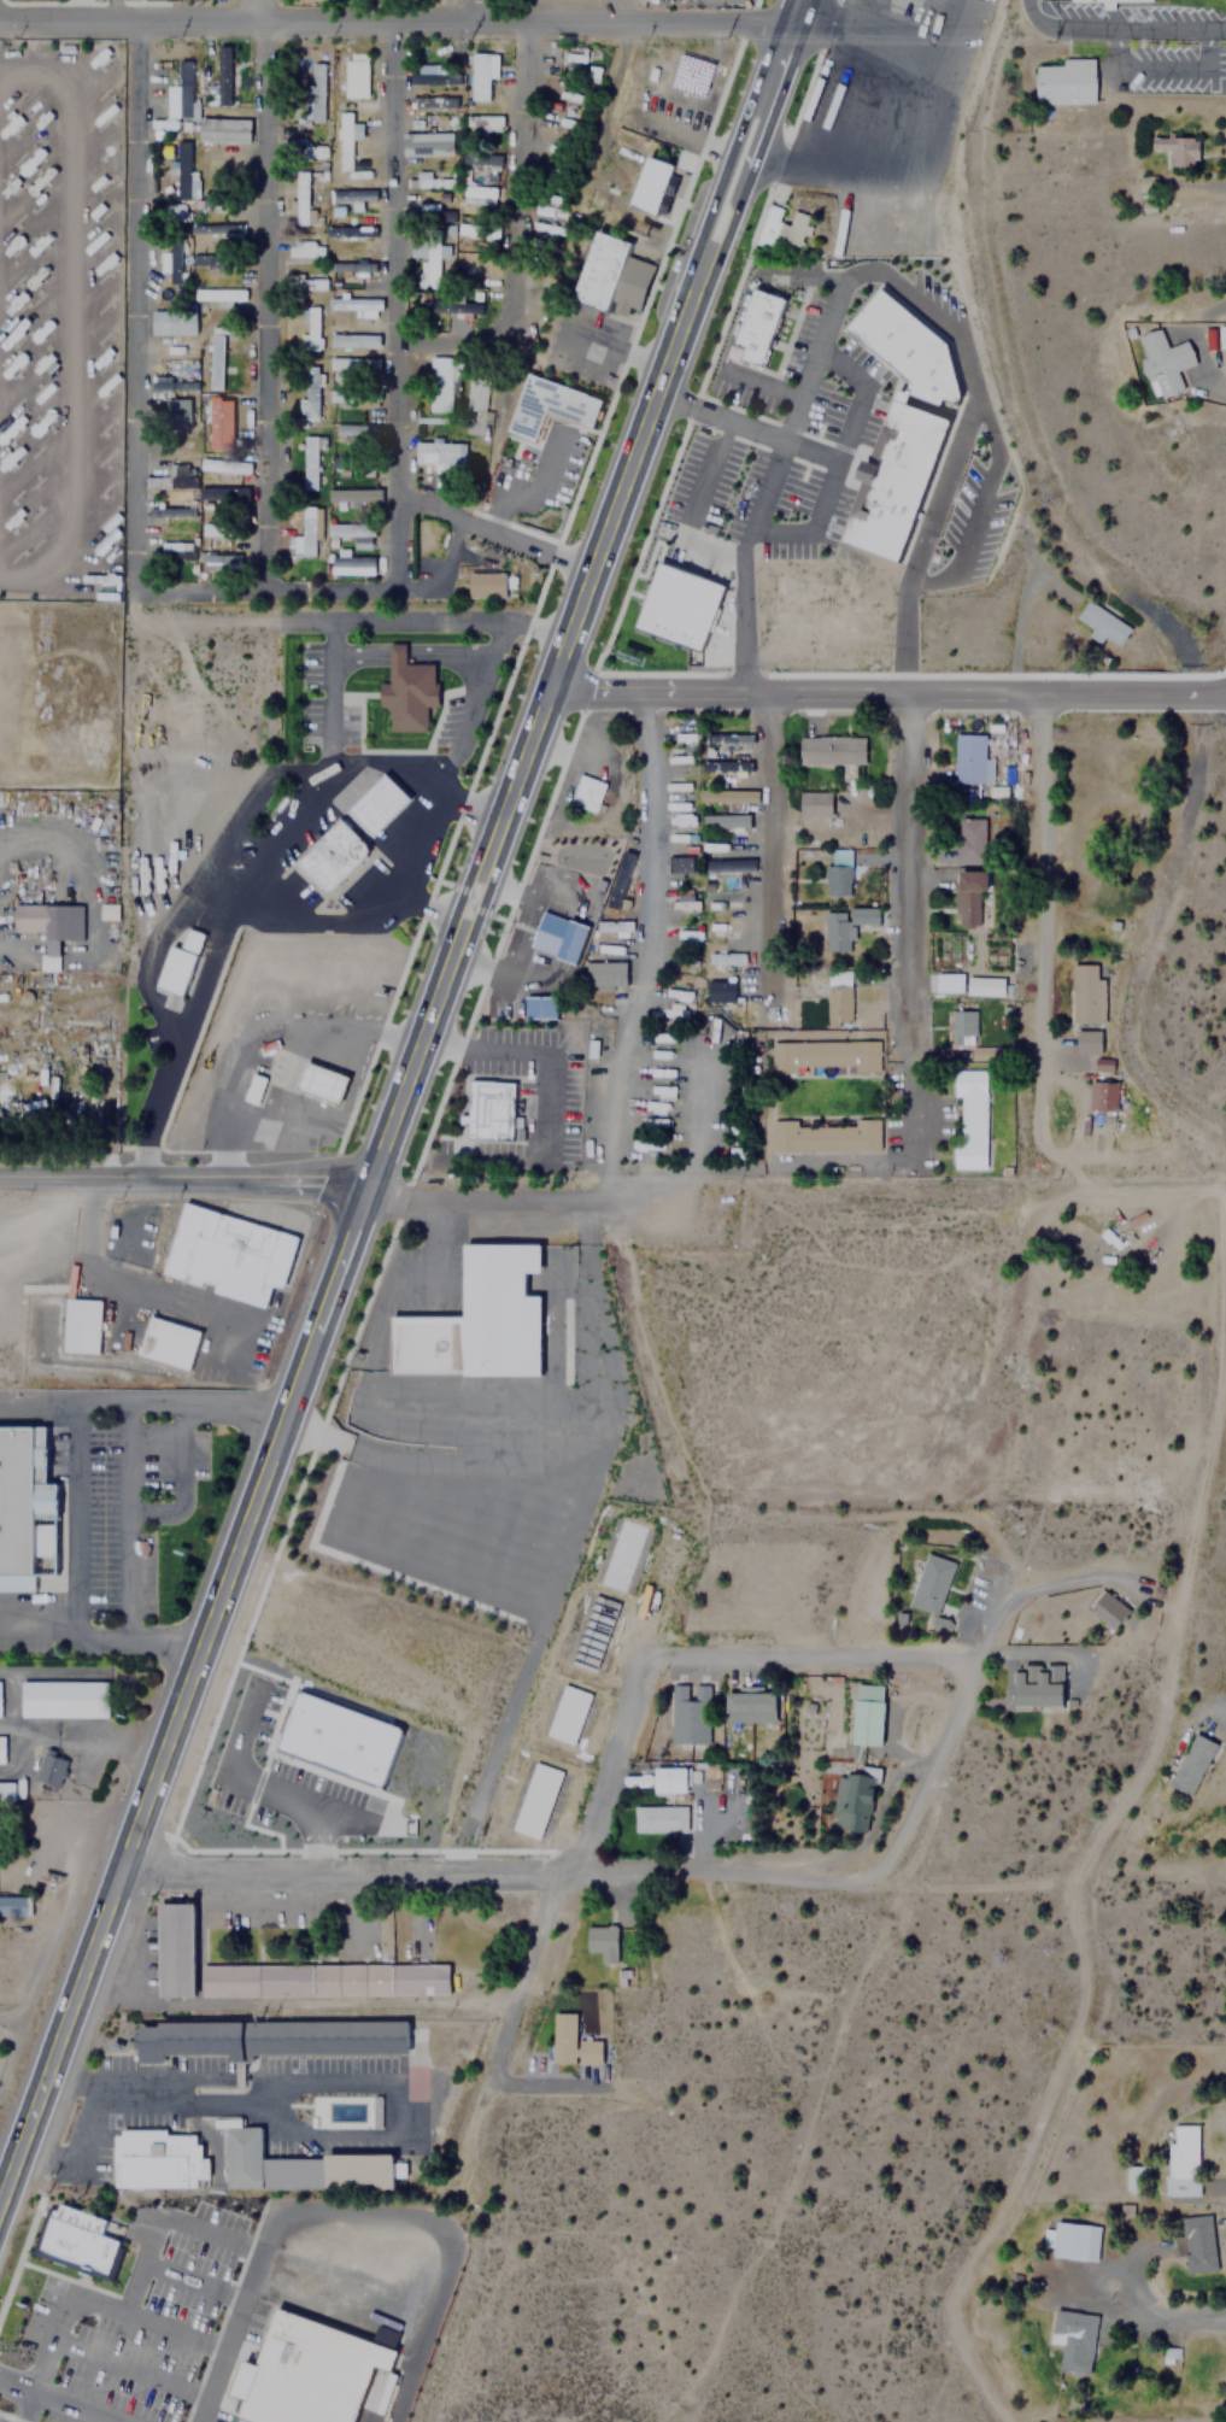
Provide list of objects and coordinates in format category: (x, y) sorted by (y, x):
building: (1111, 2)
road: (486, 8)
road: (792, 8)
road: (394, 18)
building: (350, 72)
building: (224, 75)
building: (429, 75)
building: (480, 75)
building: (1066, 81)
building: (178, 92)
building: (313, 93)
building: (433, 104)
building: (482, 123)
building: (438, 140)
road: (733, 142)
building: (346, 145)
road: (753, 148)
building: (1178, 149)
building: (306, 152)
building: (479, 159)
building: (182, 169)
building: (426, 181)
building: (651, 186)
building: (476, 195)
building: (300, 198)
building: (344, 198)
building: (422, 209)
building: (545, 225)
building: (781, 227)
building: (219, 229)
road: (518, 230)
building: (304, 248)
building: (211, 260)
building: (174, 262)
building: (428, 262)
building: (464, 264)
building: (352, 266)
building: (611, 272)
building: (303, 282)
building: (218, 294)
road: (265, 295)
building: (354, 303)
building: (456, 306)
building: (175, 318)
building: (309, 328)
building: (756, 328)
building: (354, 339)
building: (170, 345)
building: (908, 348)
building: (217, 362)
building: (1162, 362)
building: (222, 363)
building: (352, 366)
building: (440, 381)
building: (171, 382)
building: (475, 391)
building: (352, 397)
building: (309, 399)
building: (212, 401)
building: (549, 405)
building: (178, 415)
building: (213, 429)
building: (354, 433)
building: (176, 445)
building: (440, 455)
building: (309, 461)
building: (352, 463)
building: (215, 464)
building: (178, 475)
building: (897, 482)
building: (223, 494)
building: (351, 498)
building: (171, 510)
building: (303, 533)
building: (350, 533)
road: (497, 534)
building: (170, 555)
building: (218, 561)
building: (351, 564)
building: (487, 586)
road: (270, 591)
building: (673, 611)
building: (1101, 623)
building: (407, 691)
road: (888, 693)
building: (831, 749)
building: (969, 760)
building: (726, 766)
building: (586, 793)
building: (729, 796)
building: (816, 803)
building: (377, 805)
gas station: (377, 805)
building: (728, 820)
building: (968, 839)
road: (652, 848)
road: (774, 849)
building: (332, 855)
building: (684, 864)
building: (731, 866)
building: (837, 867)
building: (968, 889)
road: (470, 908)
building: (49, 927)
road: (914, 928)
building: (837, 932)
building: (561, 937)
road: (495, 943)
building: (177, 963)
building: (605, 973)
building: (946, 983)
building: (984, 985)
building: (720, 991)
building: (837, 998)
building: (542, 1008)
building: (1085, 1008)
building: (962, 1022)
building: (269, 1046)
building: (987, 1052)
building: (823, 1054)
building: (321, 1083)
gas station: (321, 1083)
building: (253, 1089)
building: (488, 1109)
building: (969, 1118)
building: (822, 1136)
road: (833, 1165)
road: (183, 1177)
road: (696, 1213)
building: (225, 1249)
building: (476, 1320)
building: (80, 1325)
building: (165, 1342)
building: (369, 1454)
building: (25, 1508)
building: (620, 1555)
building: (929, 1584)
building: (1109, 1612)
building: (591, 1632)
road: (808, 1656)
building: (1037, 1688)
building: (63, 1697)
building: (747, 1706)
building: (567, 1714)
building: (687, 1714)
building: (867, 1722)
building: (342, 1738)
building: (1, 1748)
building: (1192, 1764)
building: (49, 1769)
road: (931, 1771)
building: (659, 1779)
building: (6, 1790)
building: (852, 1798)
building: (534, 1800)
building: (659, 1818)
building: (5, 1830)
road: (567, 1863)
road: (127, 1869)
road: (497, 1871)
building: (13, 1906)
building: (602, 1941)
building: (177, 1949)
building: (327, 1980)
building: (275, 2041)
building: (570, 2041)
building: (377, 2112)
road: (301, 2136)
building: (1183, 2159)
road: (87, 2160)
building: (159, 2160)
building: (303, 2168)
building: (1134, 2180)
road: (5, 2207)
road: (352, 2211)
road: (165, 2219)
building: (1074, 2239)
building: (76, 2241)
building: (1196, 2242)
road: (100, 2299)
building: (388, 2336)
building: (1072, 2341)
building: (310, 2374)
road: (58, 2400)
road: (25, 2406)
building: (237, 2418)

